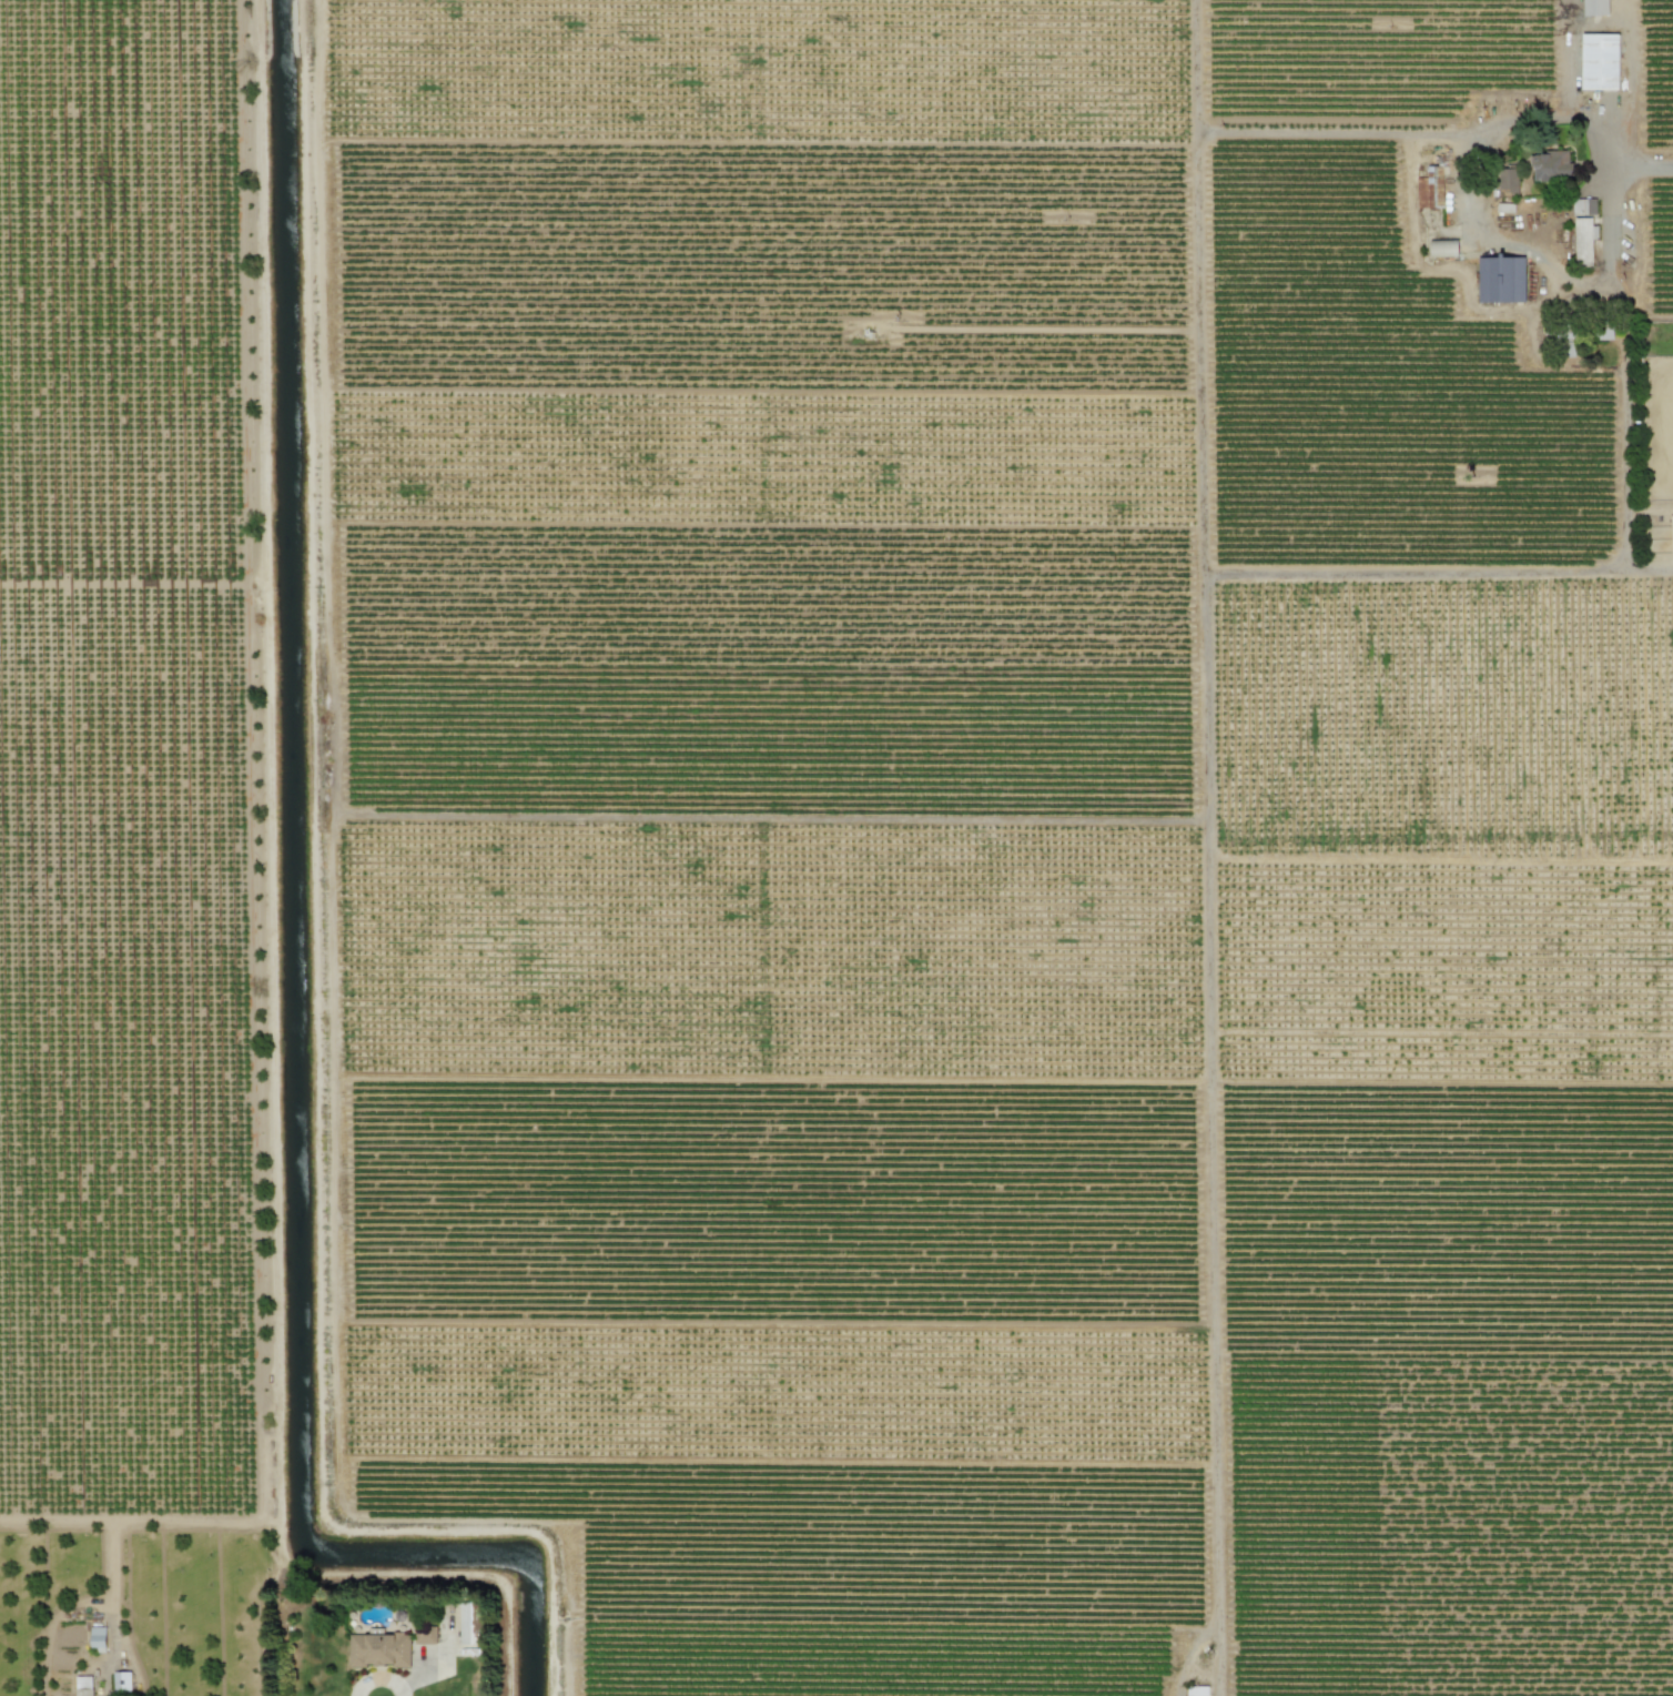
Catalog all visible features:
building: (1594, 8)
building: (1600, 61)
road: (1626, 88)
road: (1589, 113)
road: (1330, 133)
road: (1457, 150)
building: (1551, 165)
building: (1507, 182)
building: (1430, 186)
building: (1583, 241)
building: (1501, 280)
road: (1197, 287)
road: (1628, 359)
building: (1671, 533)
road: (1416, 572)
road: (1210, 1135)
building: (467, 1626)
building: (425, 1636)
building: (97, 1637)
building: (378, 1649)
building: (121, 1683)
building: (82, 1686)
building: (1197, 1690)

